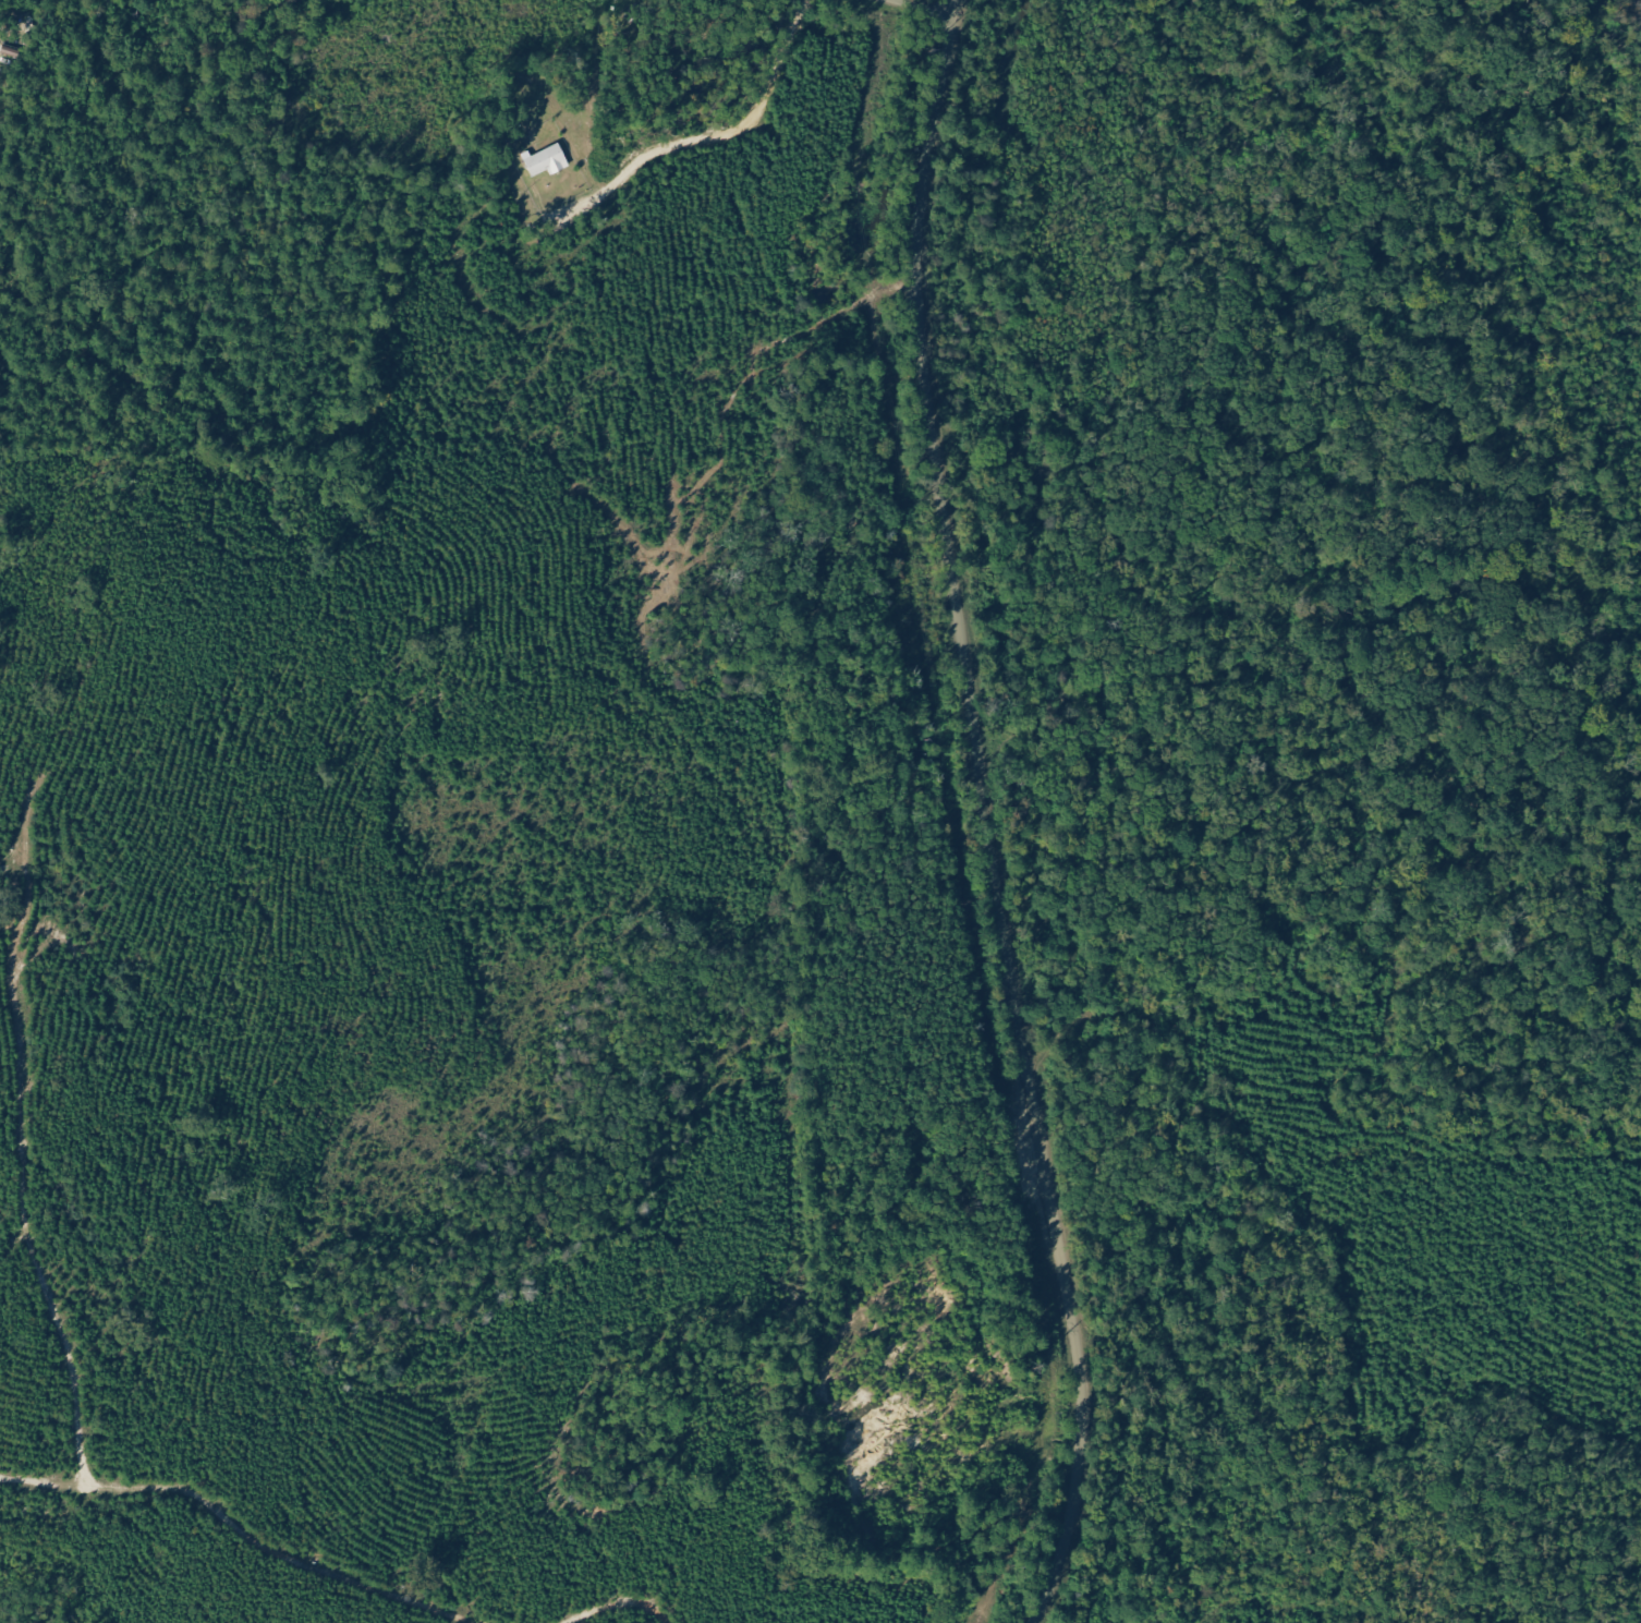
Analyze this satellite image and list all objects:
road: (867, 15)
building: (548, 161)
road: (936, 817)

